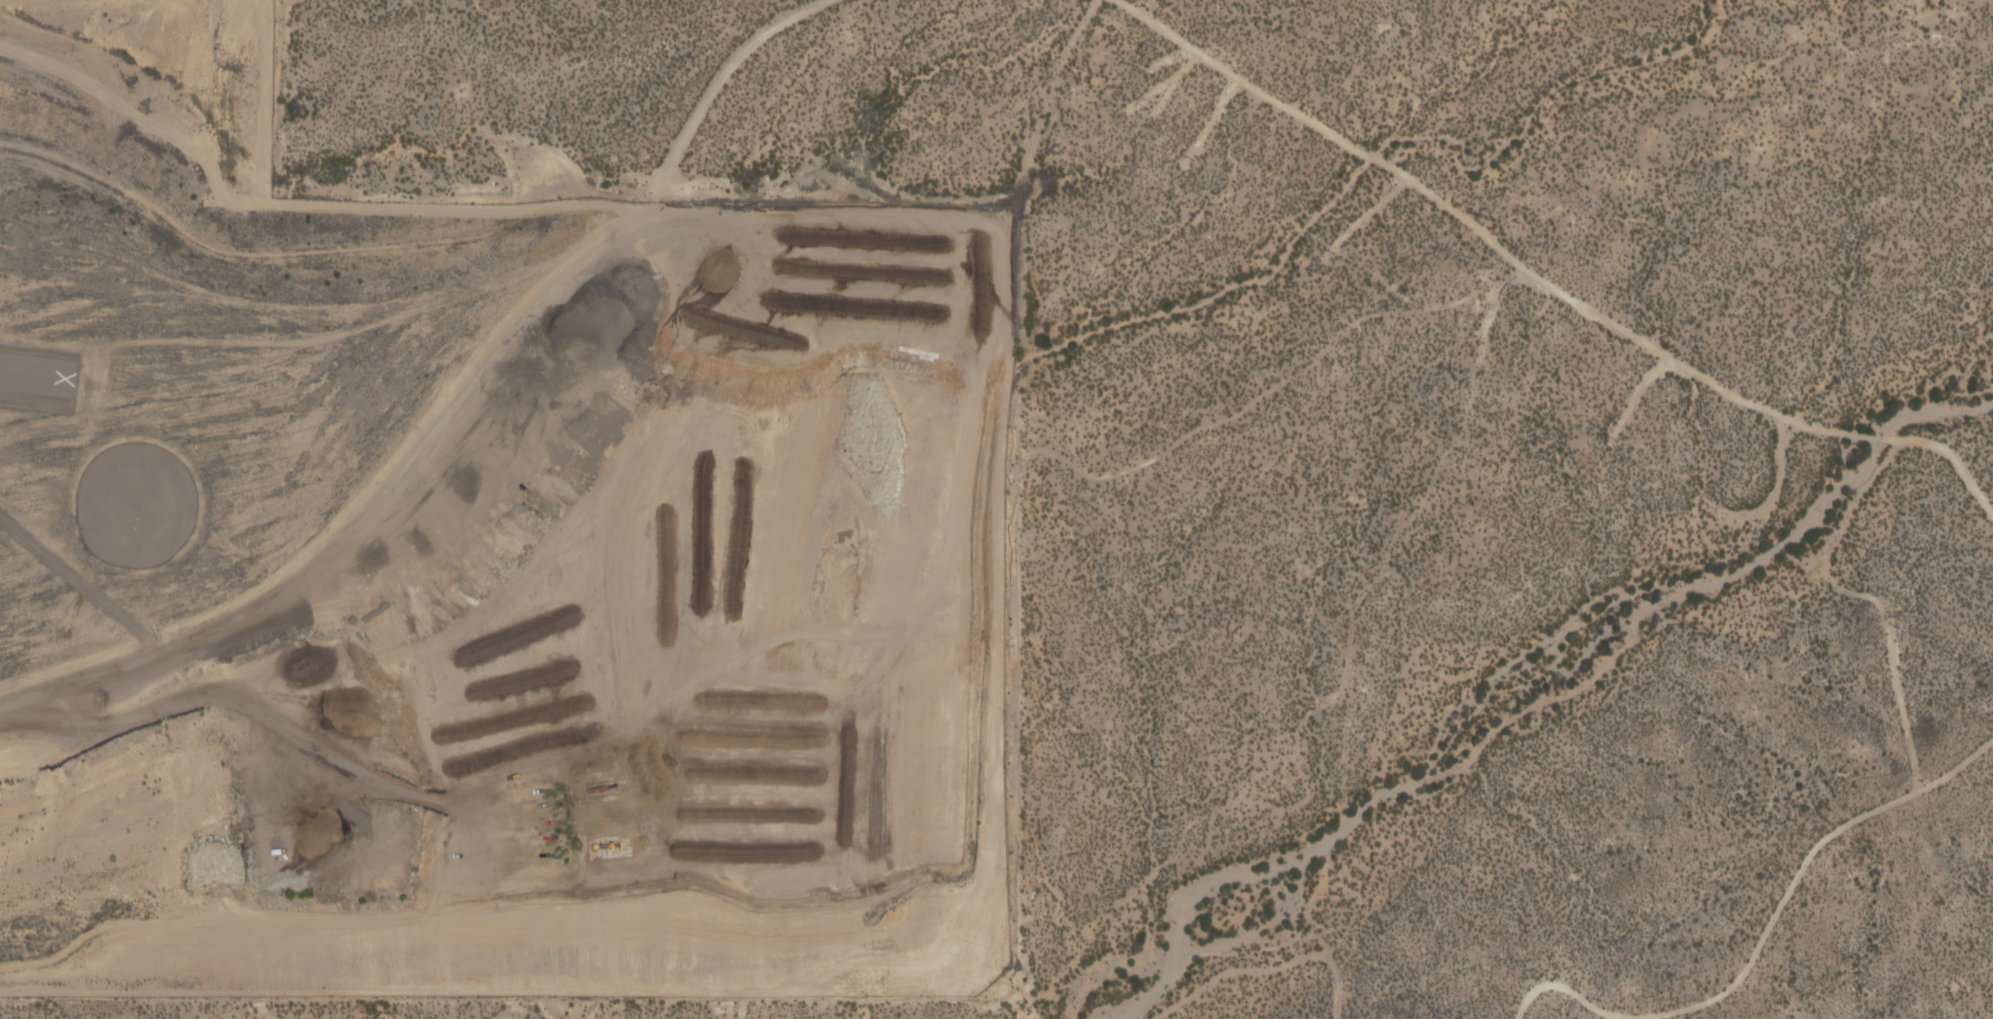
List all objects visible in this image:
road: (1074, 35)
power tower: (1155, 53)
power tower: (1151, 104)
road: (1209, 121)
road: (1364, 217)
road: (1544, 281)
power tower: (1517, 290)
road: (550, 302)
road: (1491, 302)
power tower: (1480, 321)
road: (1637, 396)
road: (1255, 400)
road: (1766, 501)
road: (1852, 506)
road: (141, 659)
road: (1901, 708)
road: (1764, 932)
road: (1269, 969)
road: (503, 1017)

